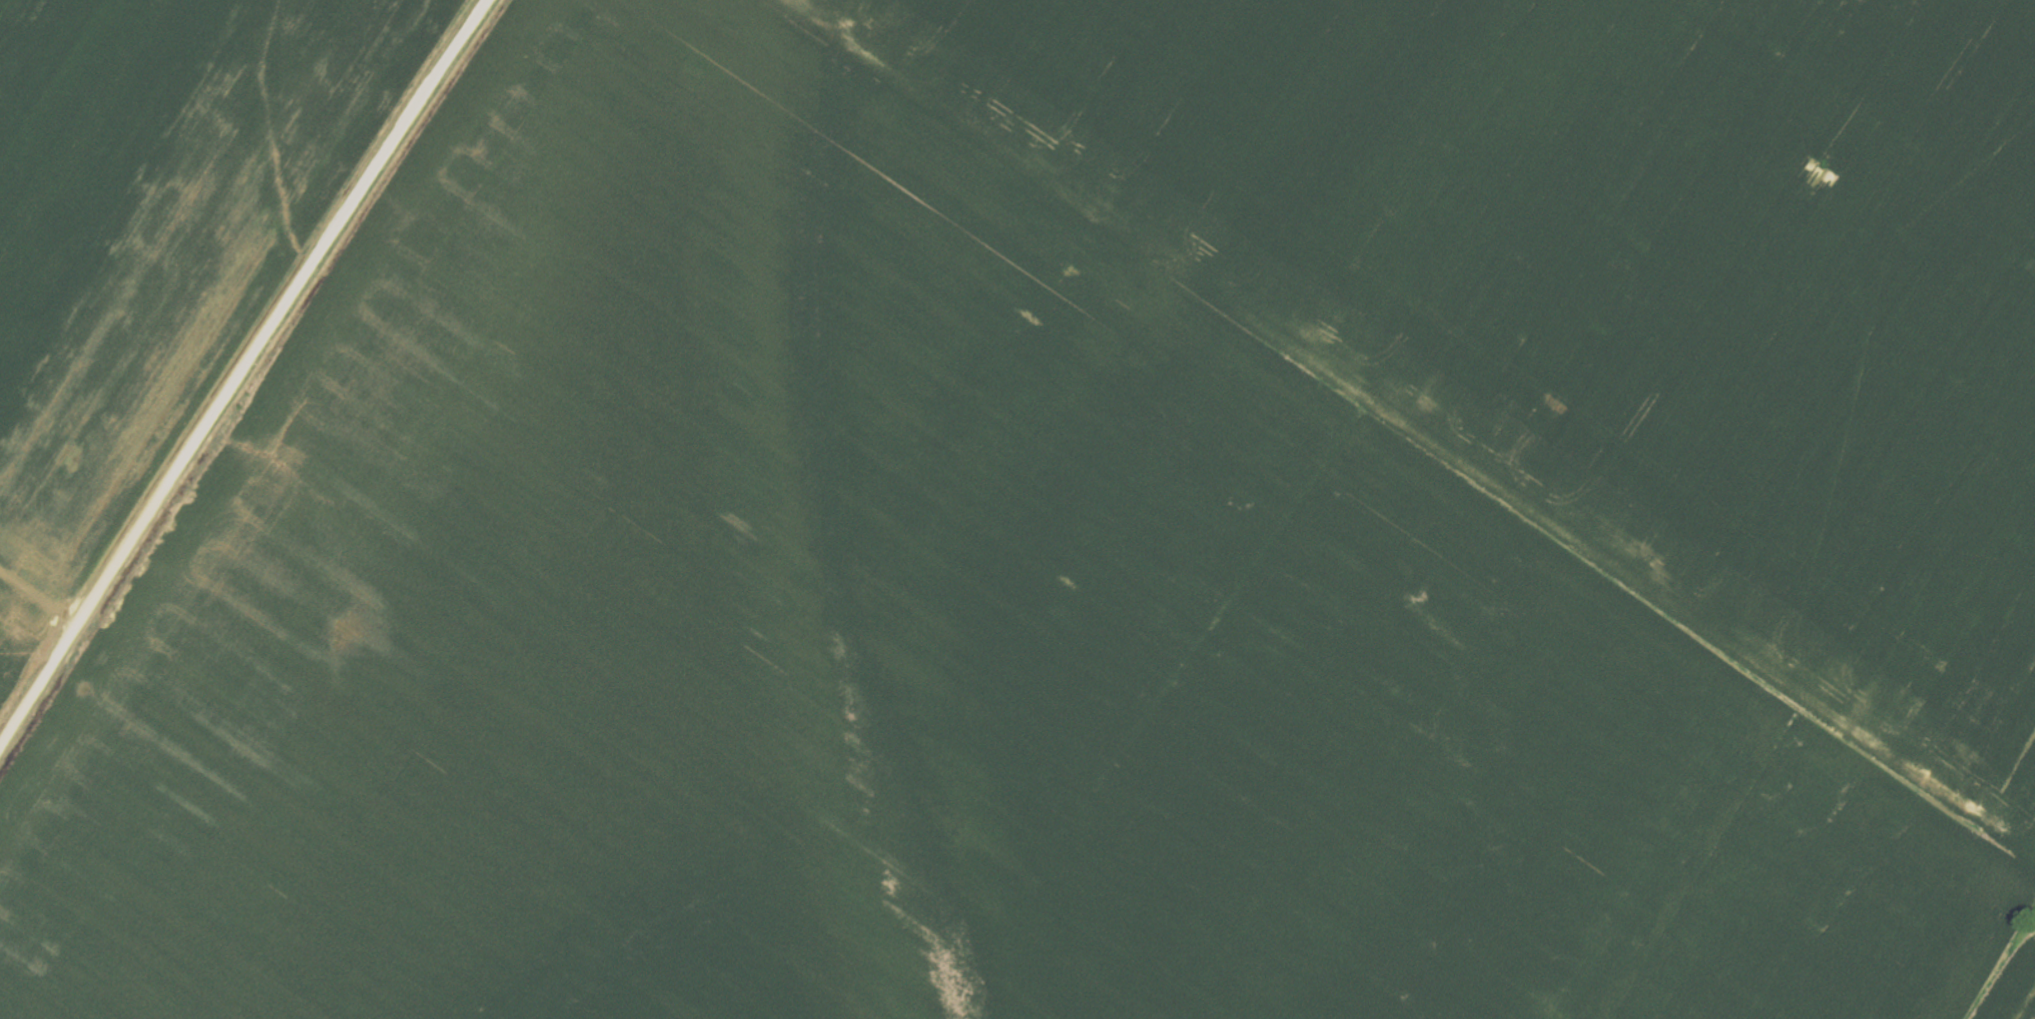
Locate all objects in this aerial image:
road: (242, 374)

